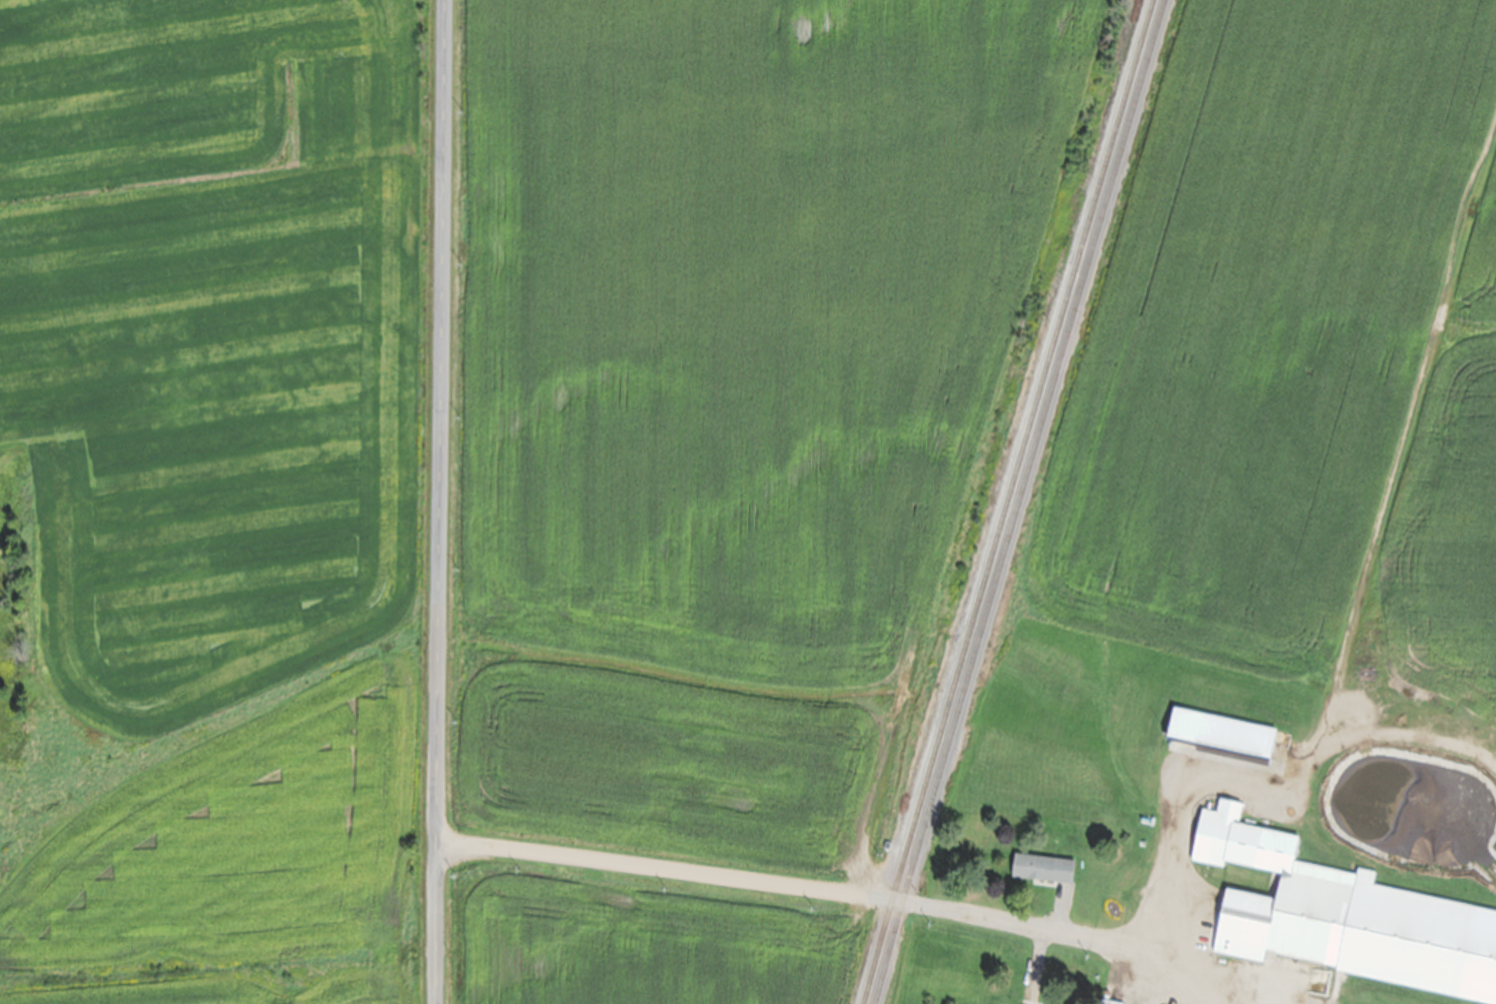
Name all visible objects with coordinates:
road: (438, 501)
railway: (1006, 501)
railway: (1018, 501)
building: (1041, 868)
road: (773, 879)
building: (1311, 893)
building: (1107, 1002)

